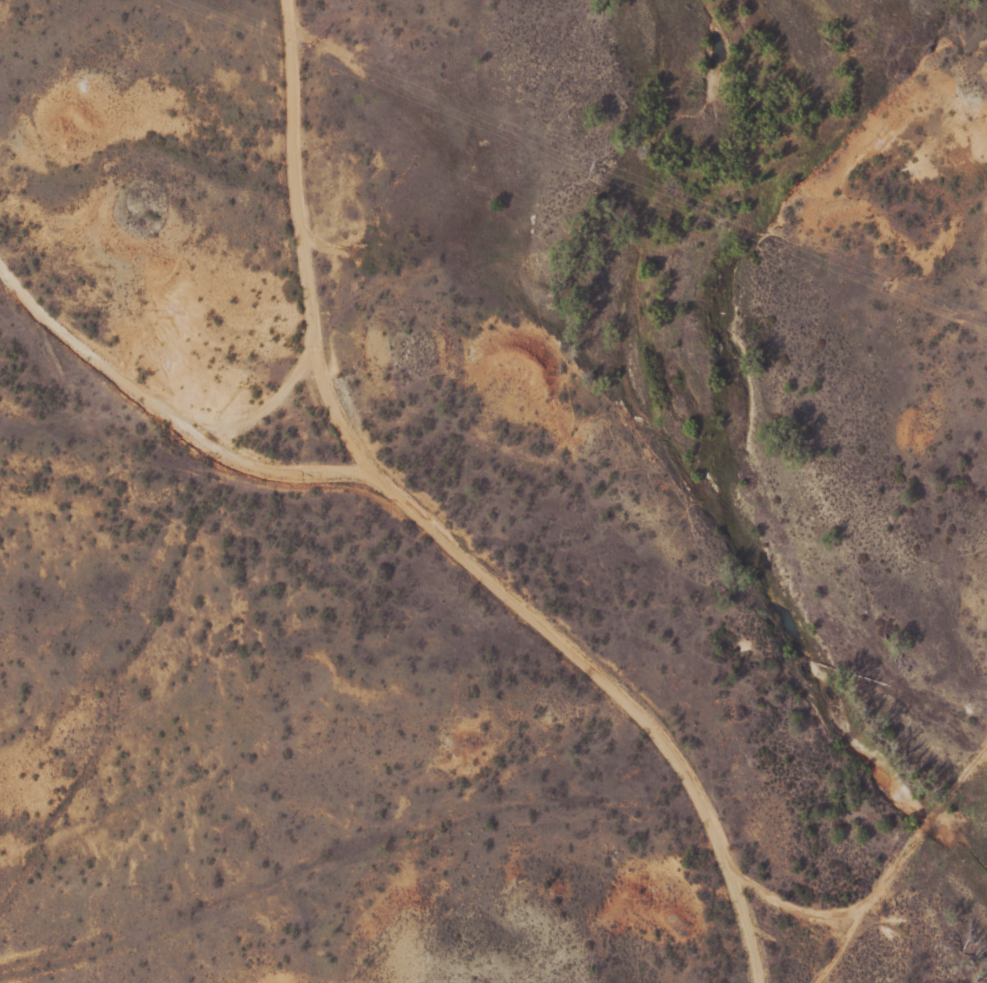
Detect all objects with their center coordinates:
power tower: (307, 46)
power tower: (599, 165)
power tower: (888, 283)

